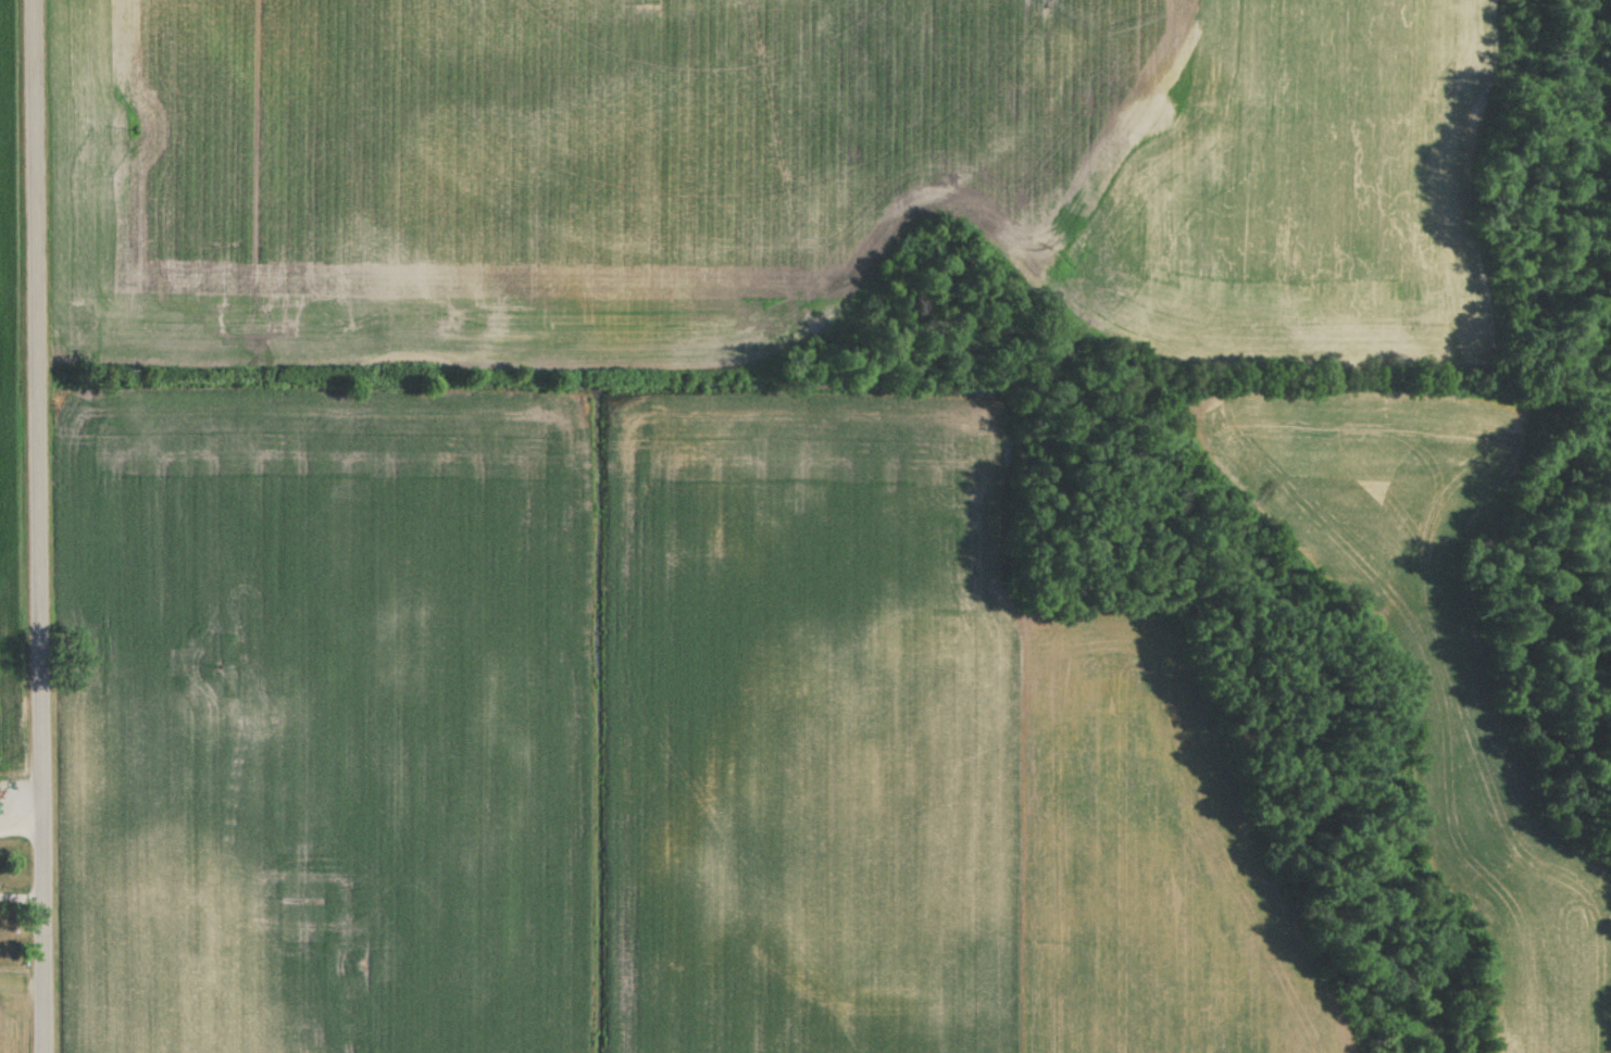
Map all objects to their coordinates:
road: (40, 526)

